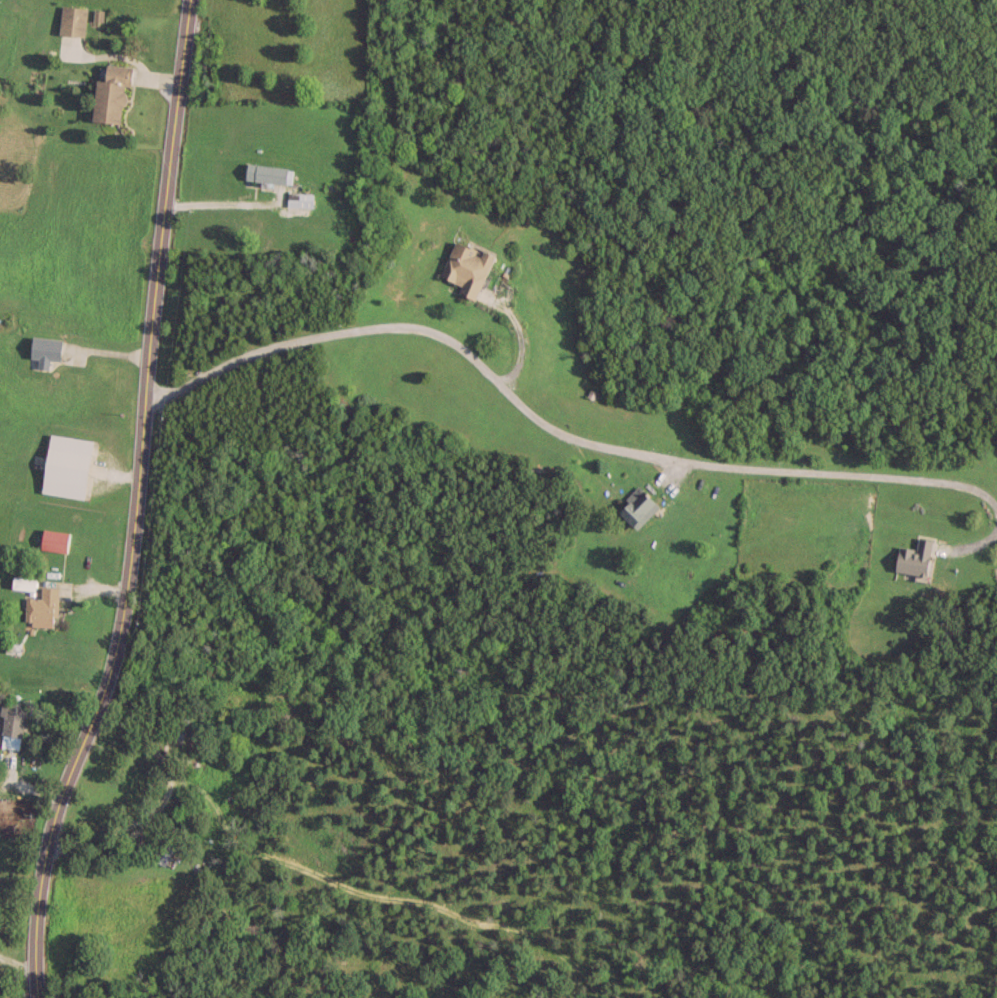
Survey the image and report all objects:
building: (70, 20)
building: (109, 94)
building: (267, 173)
building: (298, 199)
building: (465, 268)
building: (43, 350)
road: (552, 431)
building: (64, 465)
road: (135, 505)
building: (636, 506)
building: (52, 539)
road: (972, 547)
building: (912, 556)
building: (21, 582)
building: (40, 608)
building: (10, 723)
building: (175, 725)
road: (161, 801)
building: (161, 852)

